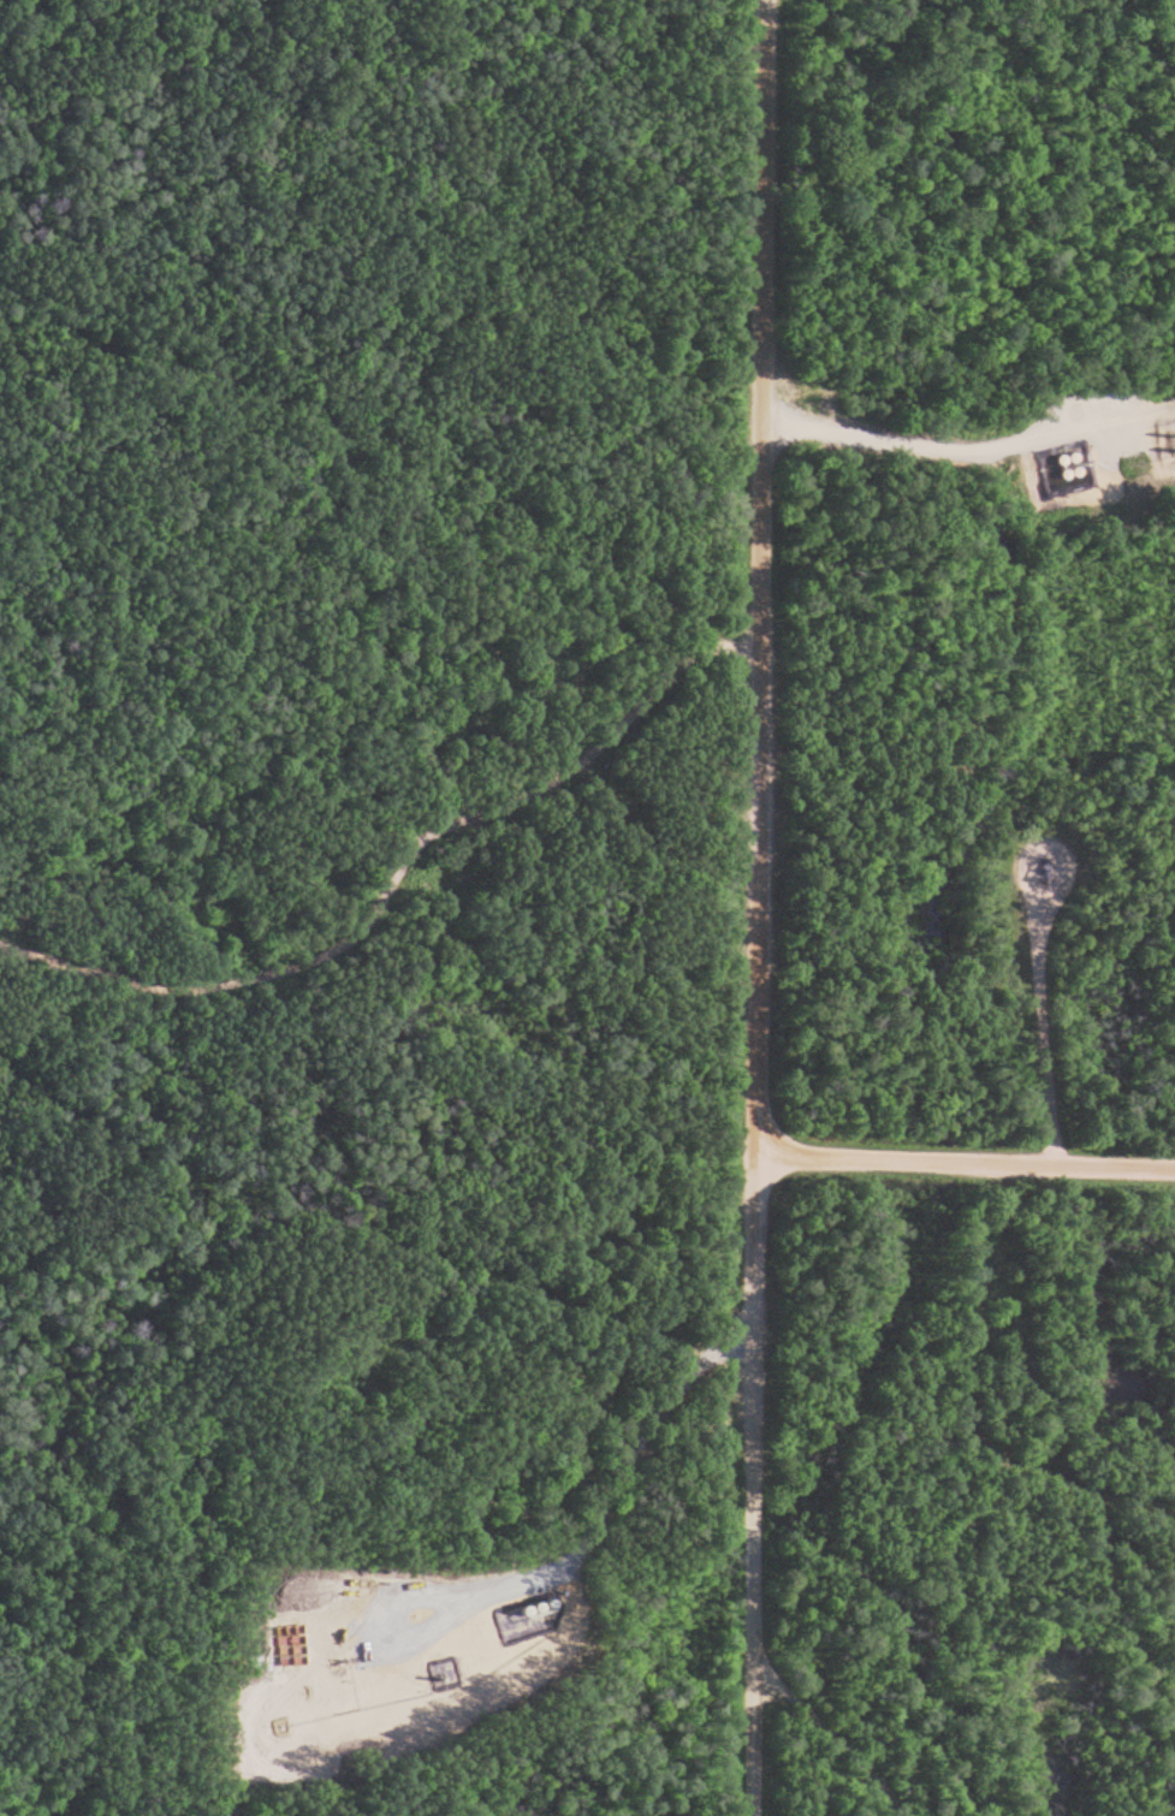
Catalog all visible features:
road: (40, 309)
road: (972, 450)
building: (1064, 469)
petroleum well: (1046, 871)
road: (391, 891)
road: (760, 907)
road: (967, 1164)
road: (532, 1600)
road: (189, 1604)
road: (838, 1739)

